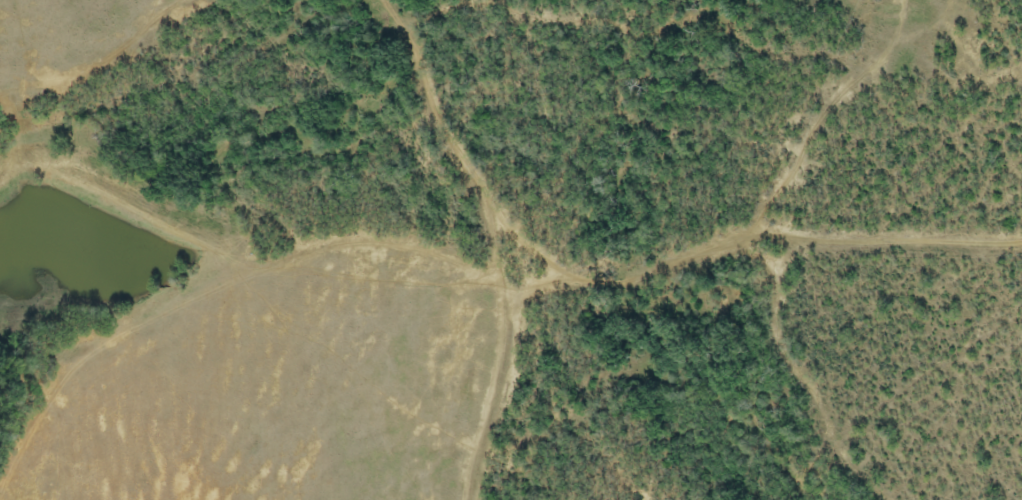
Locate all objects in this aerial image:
road: (917, 240)

